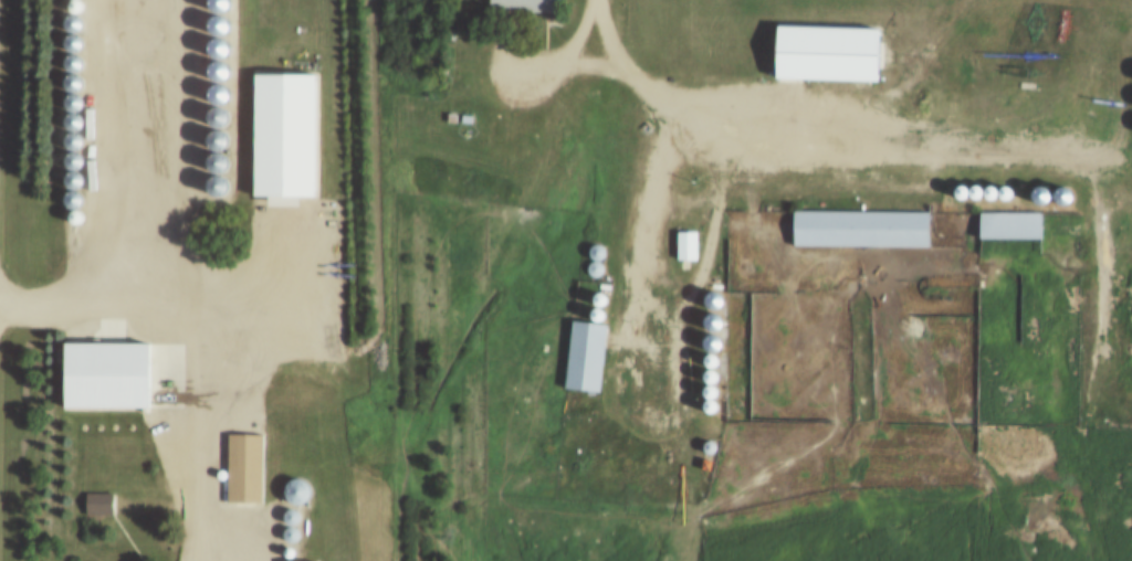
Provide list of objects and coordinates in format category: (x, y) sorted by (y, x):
building: (219, 4)
silo: (219, 4)
building: (528, 7)
building: (74, 8)
silo: (74, 8)
building: (219, 24)
silo: (219, 24)
building: (74, 25)
silo: (74, 25)
road: (572, 45)
building: (74, 46)
silo: (74, 46)
building: (219, 46)
silo: (219, 46)
building: (824, 52)
building: (74, 66)
silo: (74, 66)
building: (219, 70)
silo: (219, 70)
building: (74, 86)
silo: (74, 86)
building: (219, 93)
silo: (219, 93)
building: (74, 106)
silo: (74, 106)
road: (836, 109)
building: (219, 115)
silo: (219, 115)
building: (73, 125)
silo: (73, 125)
building: (282, 134)
building: (218, 139)
silo: (218, 139)
building: (73, 145)
silo: (73, 145)
building: (218, 161)
silo: (218, 161)
building: (74, 163)
silo: (74, 163)
road: (1126, 172)
building: (74, 183)
silo: (74, 183)
building: (219, 184)
silo: (219, 184)
building: (963, 193)
silo: (963, 193)
building: (978, 194)
silo: (978, 194)
building: (993, 195)
silo: (993, 195)
building: (1007, 195)
silo: (1007, 195)
building: (1045, 198)
silo: (1045, 198)
building: (1066, 198)
silo: (1066, 198)
building: (74, 201)
silo: (74, 201)
building: (75, 218)
silo: (75, 218)
building: (1016, 229)
building: (863, 230)
building: (690, 245)
building: (597, 251)
silo: (597, 251)
building: (594, 267)
silo: (594, 267)
building: (601, 300)
silo: (601, 300)
building: (716, 301)
silo: (716, 301)
building: (599, 316)
silo: (599, 316)
building: (715, 322)
silo: (715, 322)
building: (715, 343)
silo: (715, 343)
building: (589, 358)
building: (713, 361)
silo: (713, 361)
building: (106, 372)
building: (712, 377)
silo: (712, 377)
building: (712, 392)
silo: (712, 392)
building: (713, 407)
silo: (713, 407)
building: (712, 448)
silo: (712, 448)
building: (247, 468)
building: (222, 472)
silo: (222, 472)
building: (297, 488)
silo: (297, 488)
building: (97, 501)
building: (293, 515)
silo: (293, 515)
building: (292, 531)
silo: (292, 531)
building: (291, 553)
silo: (291, 553)

